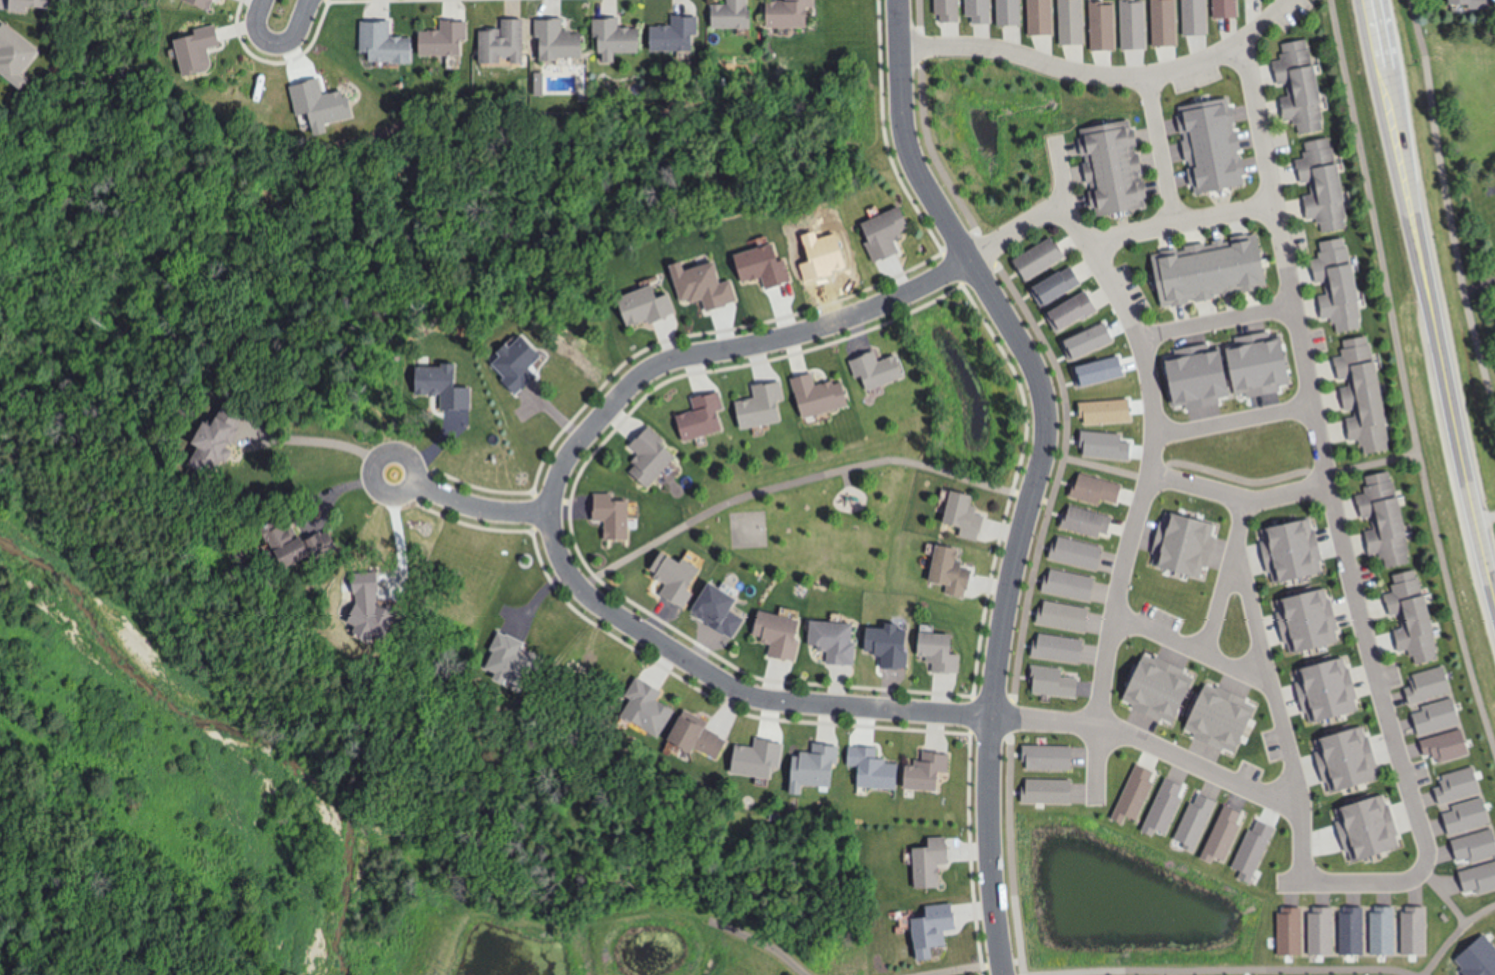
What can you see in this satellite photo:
building: (1254, 1)
building: (206, 4)
building: (1473, 4)
building: (33, 7)
road: (1280, 9)
building: (947, 10)
building: (979, 12)
building: (1010, 13)
building: (735, 14)
building: (797, 14)
building: (1214, 14)
building: (1041, 16)
building: (1175, 20)
building: (1074, 22)
building: (1108, 26)
building: (1142, 30)
building: (678, 34)
building: (622, 36)
road: (1380, 38)
building: (447, 40)
building: (564, 40)
building: (391, 43)
building: (506, 44)
road: (277, 45)
building: (202, 52)
building: (19, 57)
road: (1090, 72)
building: (1304, 88)
road: (1158, 147)
building: (1115, 170)
building: (1326, 187)
road: (1448, 206)
road: (1118, 234)
building: (1485, 234)
building: (891, 235)
building: (1041, 261)
building: (1215, 271)
building: (704, 286)
building: (1341, 286)
building: (1063, 287)
building: (645, 311)
building: (1077, 313)
road: (1216, 321)
road: (1435, 341)
building: (881, 370)
road: (1403, 381)
building: (1366, 384)
building: (442, 387)
building: (822, 389)
building: (761, 404)
building: (705, 416)
road: (1234, 422)
road: (316, 436)
building: (221, 438)
building: (650, 457)
road: (411, 459)
park: (872, 461)
road: (1150, 468)
road: (936, 469)
road: (1105, 469)
road: (1035, 471)
road: (1060, 472)
road: (1283, 477)
road: (1207, 489)
building: (1100, 490)
road: (1289, 493)
road: (479, 510)
building: (613, 515)
road: (550, 516)
building: (968, 516)
building: (1387, 520)
building: (1090, 523)
park: (747, 530)
road: (1340, 530)
building: (302, 537)
building: (1296, 552)
building: (954, 578)
building: (674, 585)
road: (1219, 605)
park: (142, 609)
building: (1313, 619)
building: (1415, 619)
building: (774, 637)
building: (837, 642)
building: (505, 647)
building: (942, 651)
road: (1189, 651)
building: (1329, 693)
road: (1272, 701)
building: (649, 706)
building: (1437, 715)
building: (708, 740)
road: (1147, 742)
building: (1352, 759)
building: (872, 760)
building: (930, 770)
building: (817, 774)
building: (1460, 816)
building: (1369, 828)
building: (936, 863)
road: (1444, 897)
park: (1114, 901)
building: (1351, 921)
building: (1320, 922)
building: (1383, 922)
building: (1288, 923)
building: (1413, 923)
building: (938, 933)
road: (1454, 934)
road: (749, 937)
building: (1478, 952)
road: (977, 967)
park: (956, 969)
road: (1228, 970)

